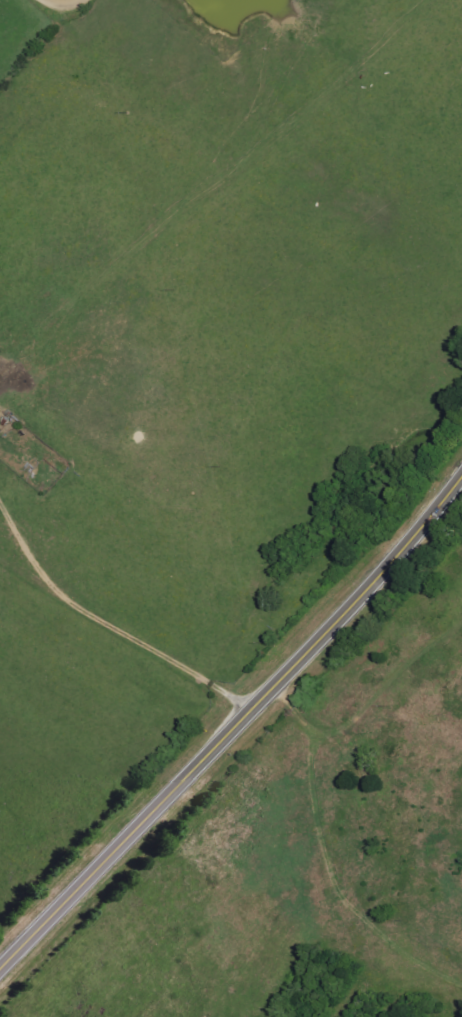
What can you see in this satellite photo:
road: (67, 1)
road: (128, 633)
road: (233, 729)

